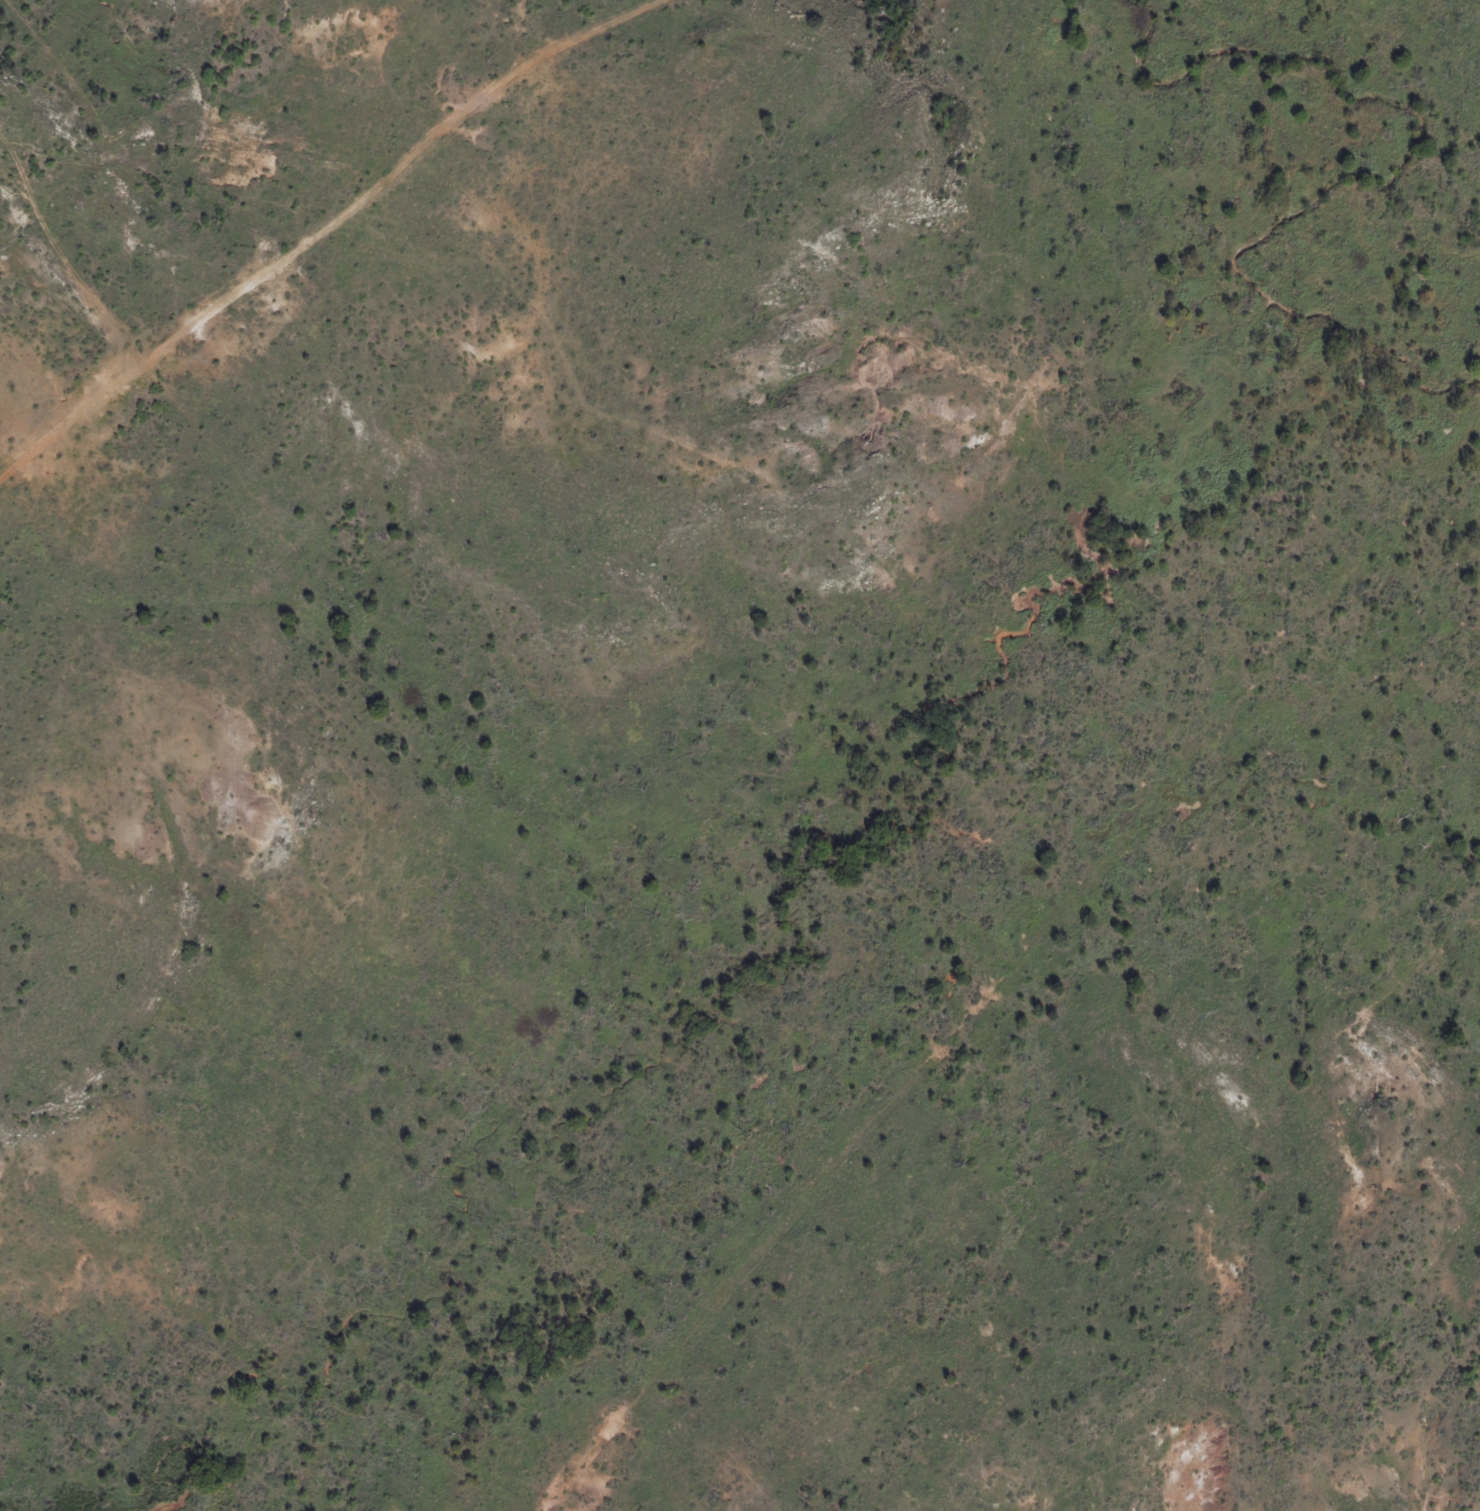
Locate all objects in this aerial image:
road: (106, 311)

